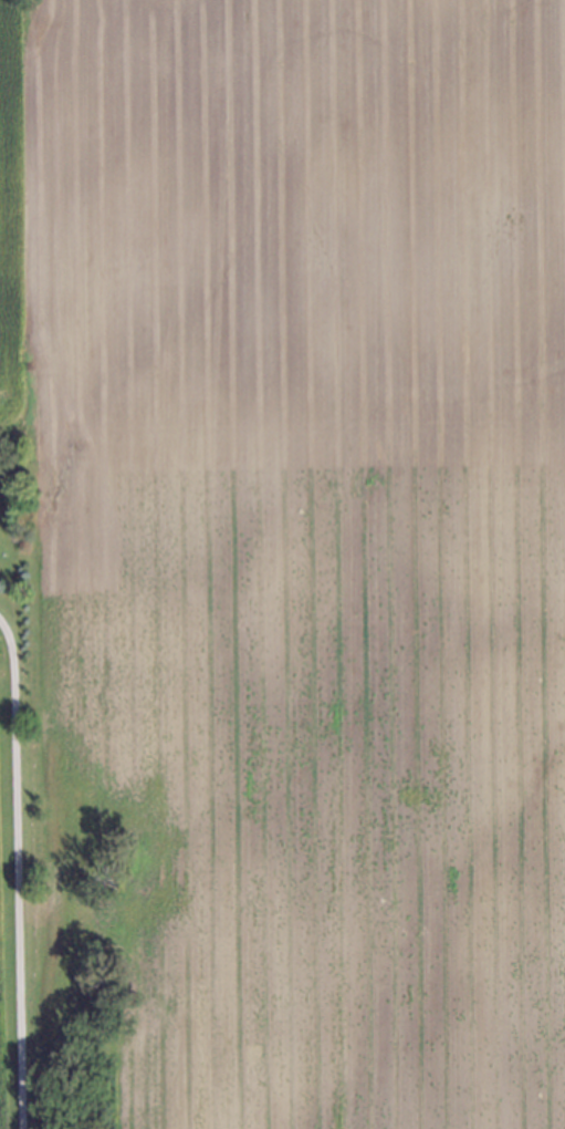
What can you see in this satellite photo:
road: (13, 879)

